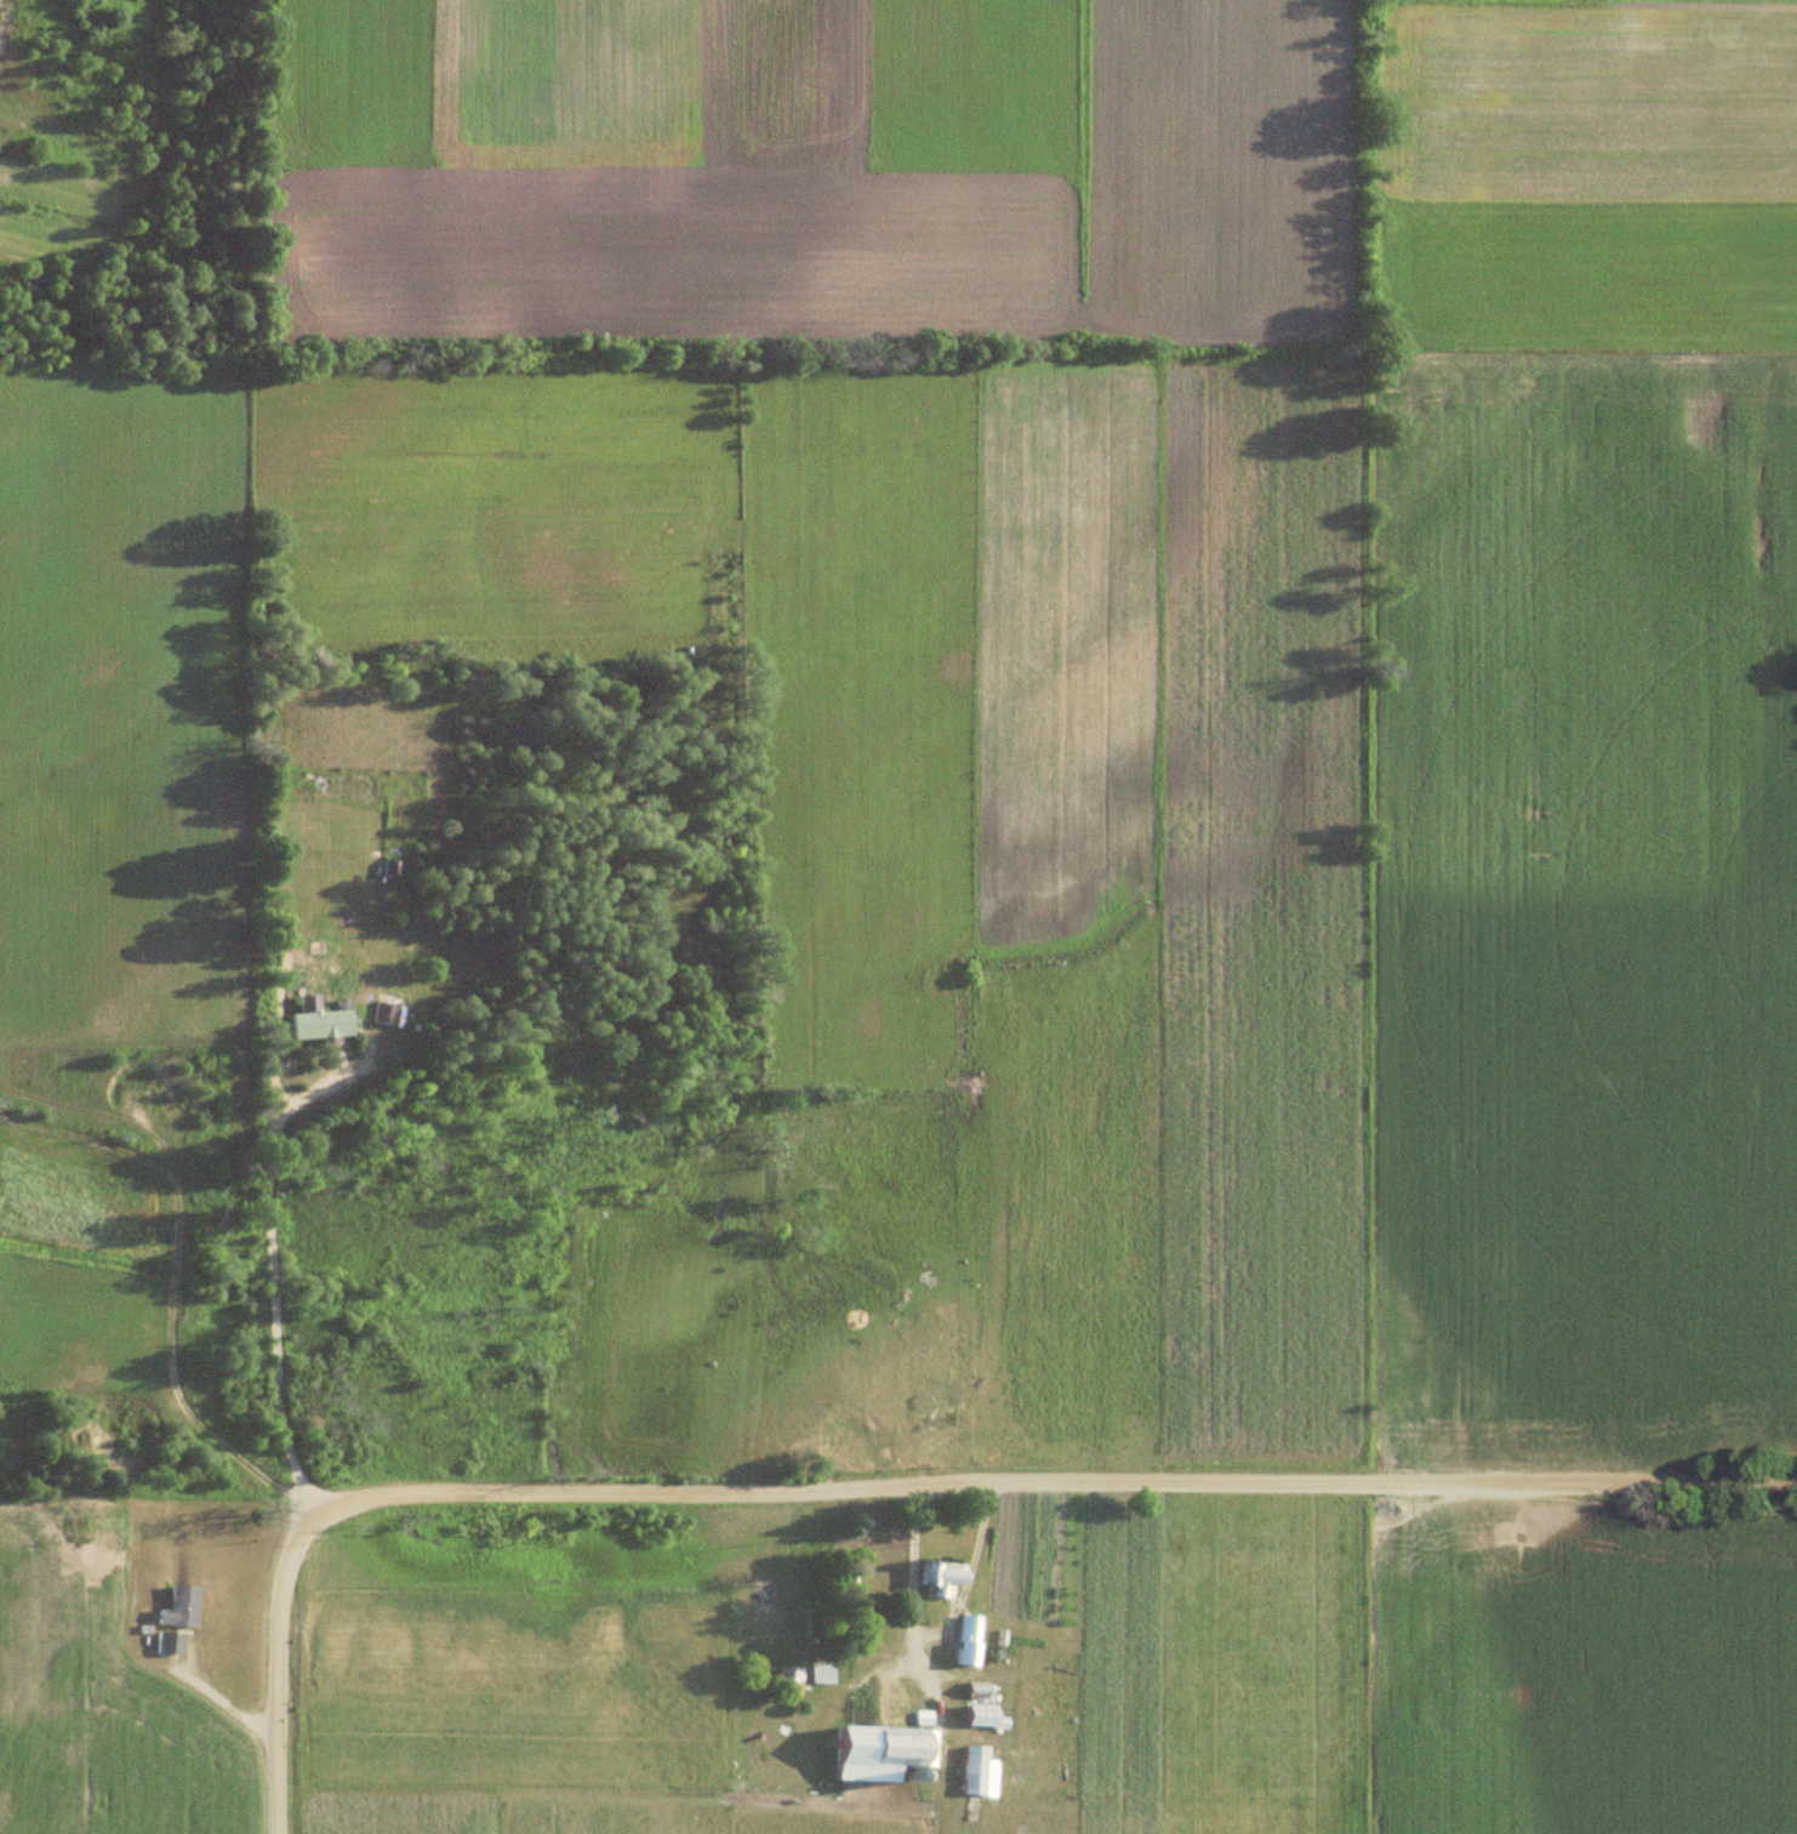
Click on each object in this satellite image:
building: (384, 1014)
building: (320, 1021)
road: (269, 1281)
road: (1097, 1487)
building: (942, 1580)
building: (765, 1601)
building: (178, 1611)
road: (275, 1624)
building: (966, 1641)
building: (169, 1645)
building: (832, 1675)
building: (788, 1681)
building: (900, 1748)
building: (975, 1761)

